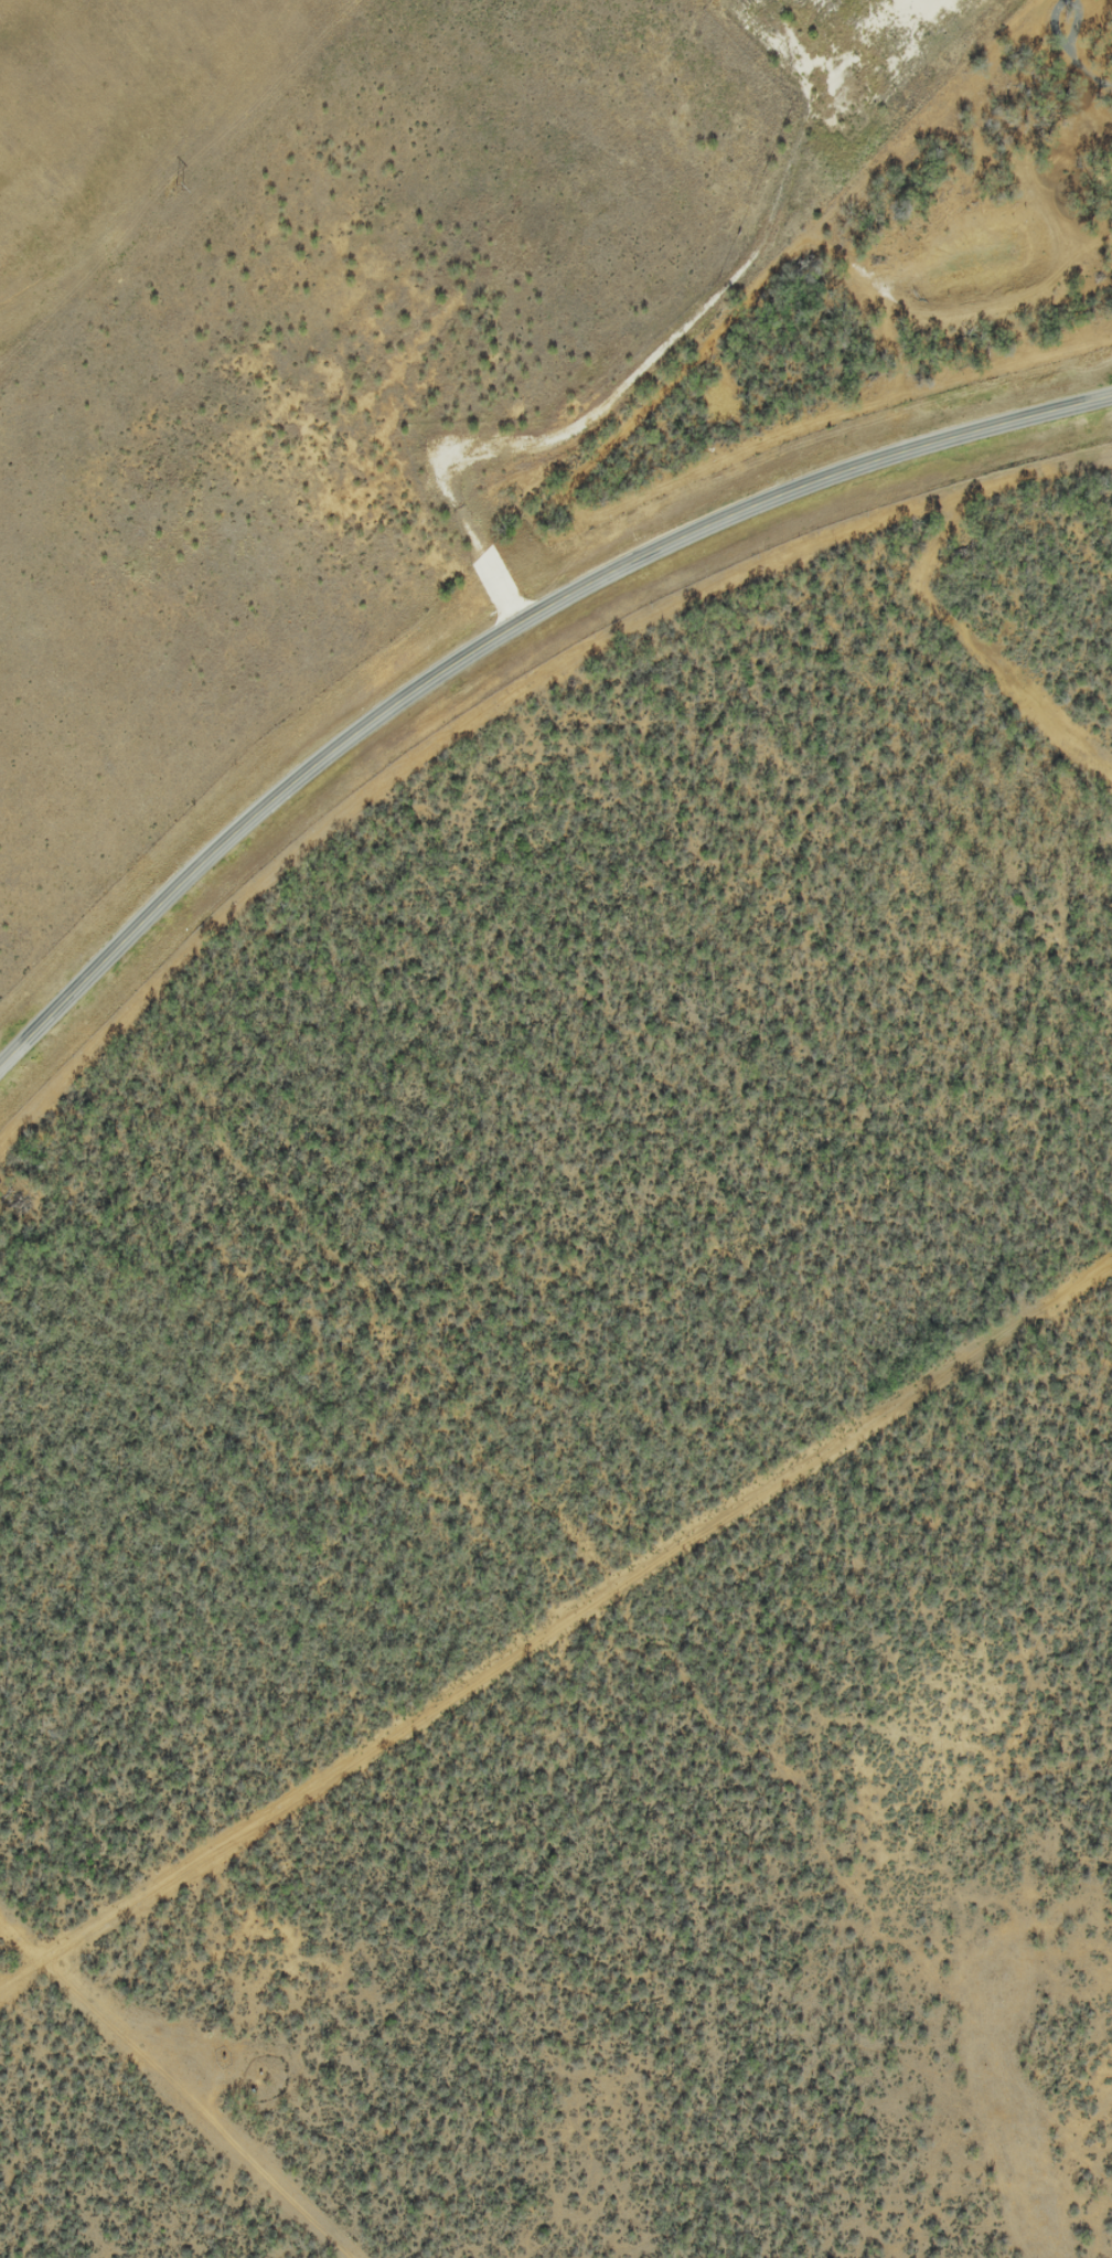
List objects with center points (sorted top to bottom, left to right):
power tower: (177, 189)
road: (849, 264)
road: (499, 637)

